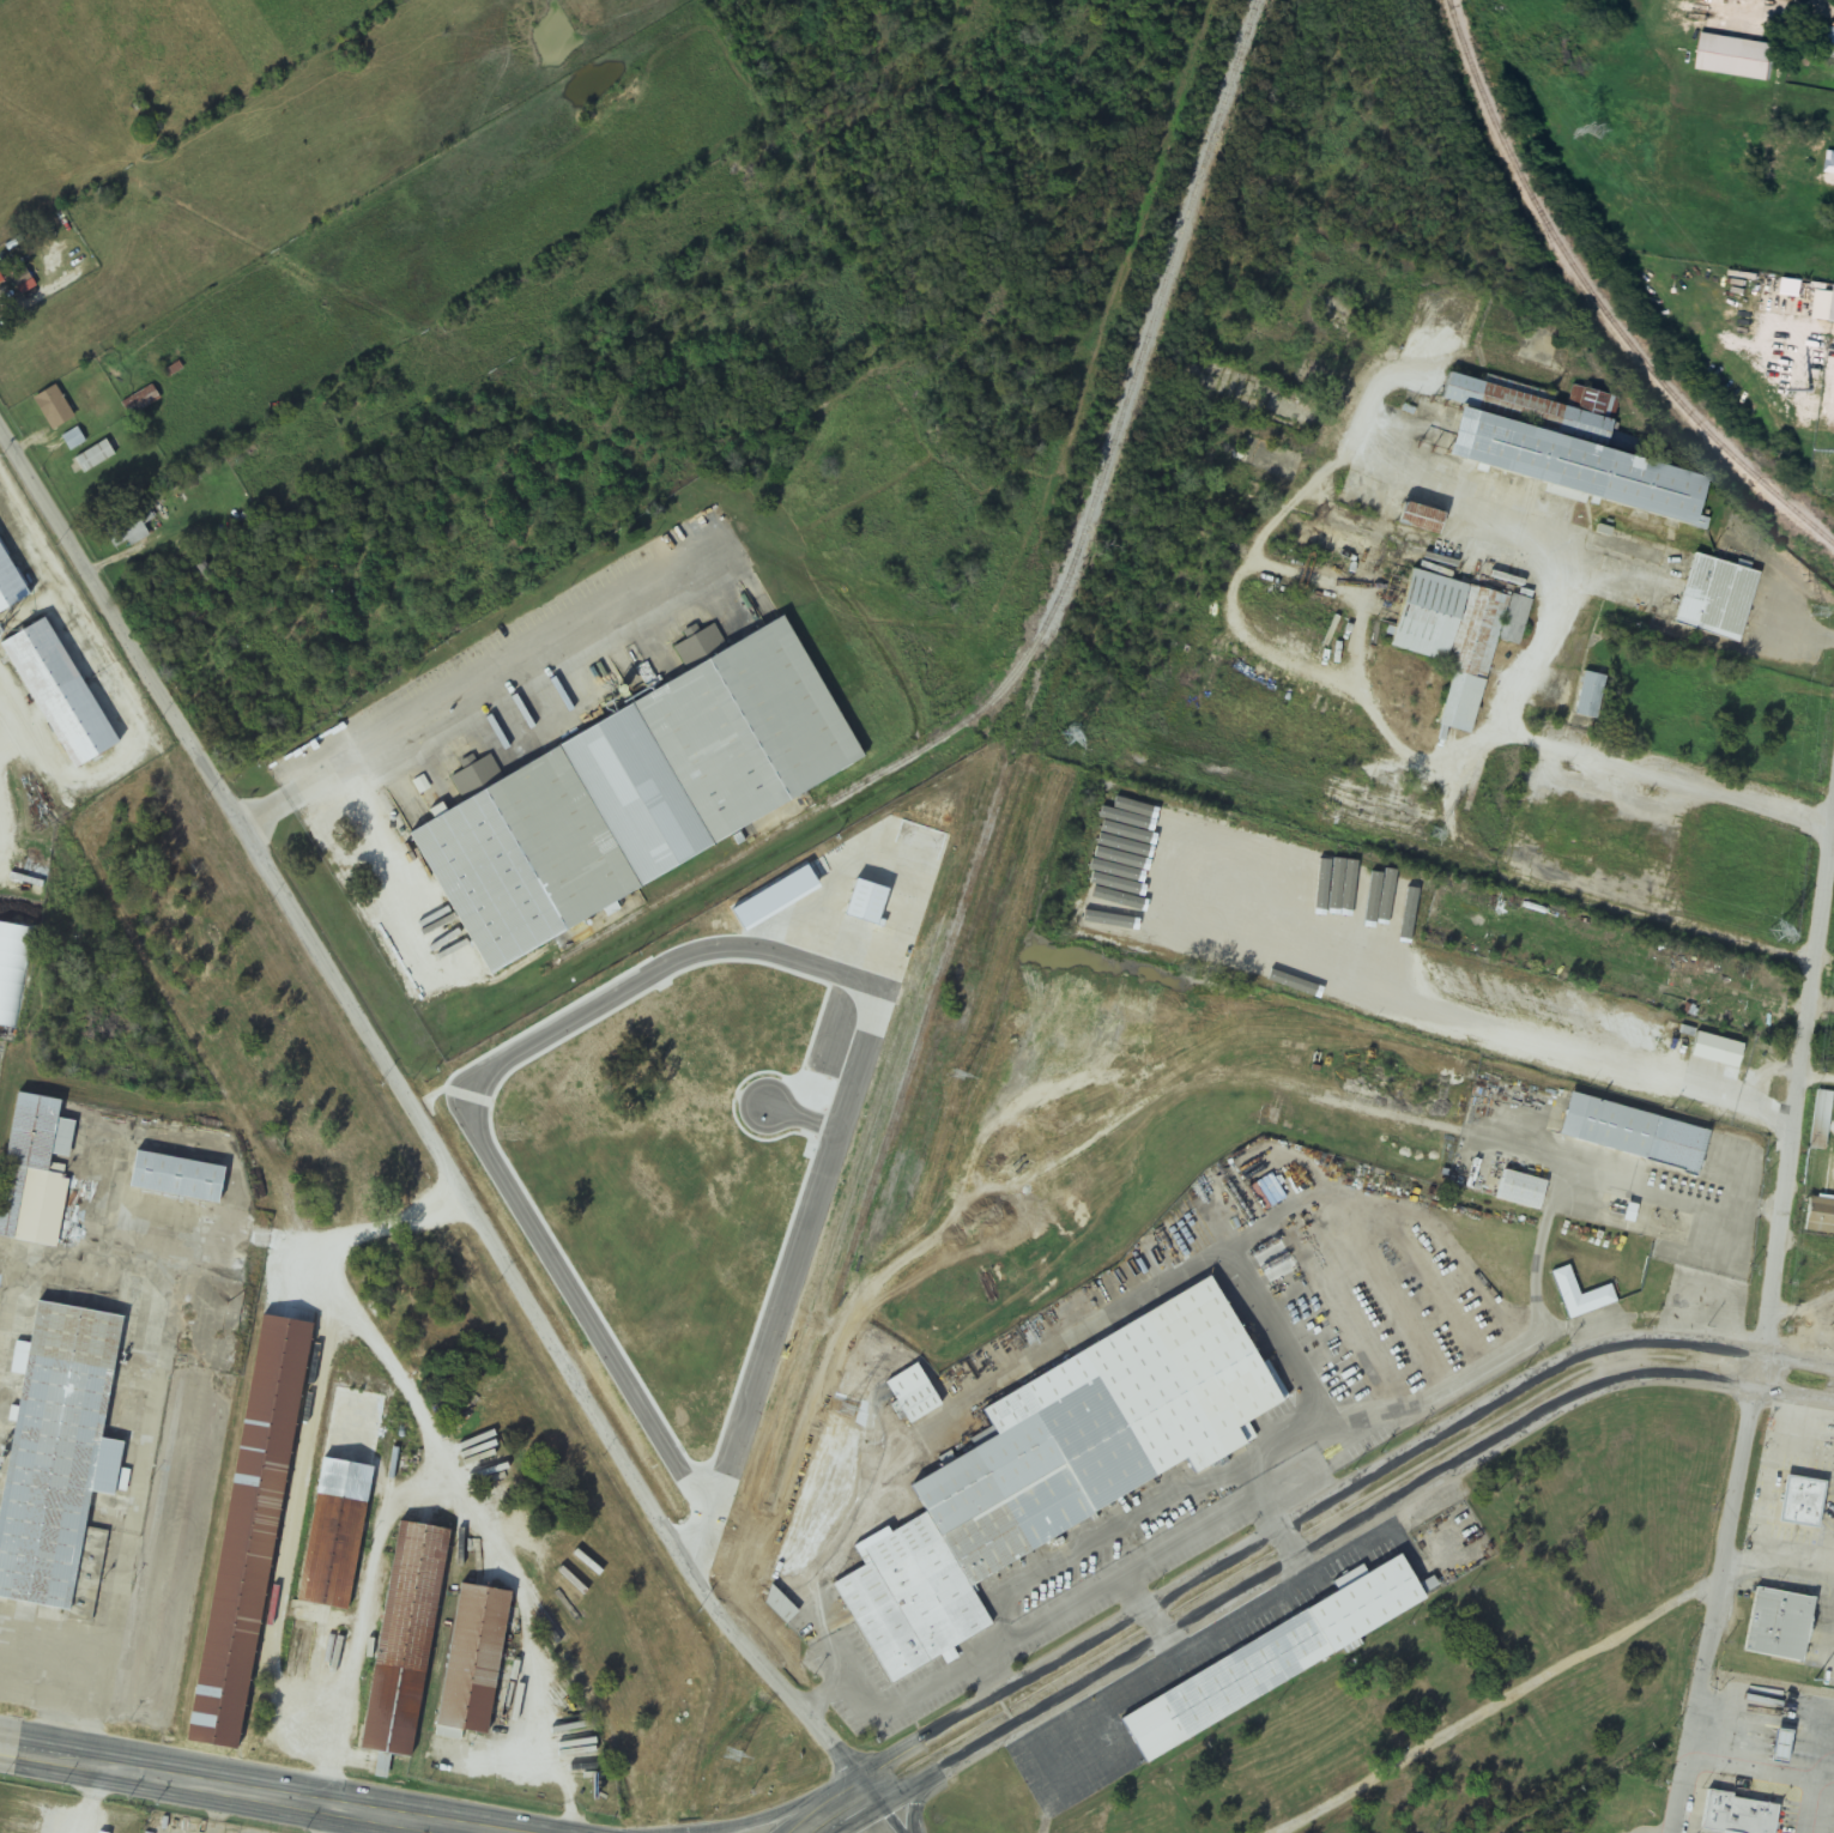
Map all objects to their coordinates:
building: (1802, 0)
building: (1829, 44)
building: (1736, 56)
power tower: (1604, 132)
building: (1830, 162)
railway: (1173, 272)
building: (0, 286)
railway: (1600, 298)
building: (1833, 311)
building: (1336, 315)
power tower: (1808, 389)
building: (1241, 397)
building: (140, 400)
building: (54, 407)
building: (73, 438)
building: (1554, 449)
building: (93, 456)
building: (1355, 482)
building: (1417, 520)
building: (129, 527)
building: (10, 586)
building: (1714, 599)
power tower: (1820, 613)
building: (1455, 637)
road: (483, 683)
building: (62, 694)
building: (1588, 697)
power tower: (1069, 739)
railway: (851, 792)
building: (632, 794)
power tower: (1432, 834)
power tower: (1778, 933)
building: (1230, 952)
building: (1557, 1009)
building: (1749, 1051)
railway: (1248, 1055)
power tower: (958, 1076)
road: (422, 1115)
building: (1820, 1121)
building: (1632, 1133)
building: (34, 1172)
building: (180, 1176)
building: (1519, 1190)
building: (1818, 1216)
building: (1580, 1296)
road: (1761, 1329)
building: (910, 1395)
power tower: (847, 1411)
building: (1096, 1426)
building: (60, 1457)
building: (341, 1496)
road: (1333, 1496)
building: (1814, 1507)
building: (253, 1530)
road: (1340, 1530)
road: (1288, 1543)
building: (914, 1601)
road: (1156, 1620)
building: (1791, 1631)
building: (1515, 1632)
building: (408, 1638)
building: (476, 1659)
building: (1270, 1659)
building: (1448, 1669)
power tower: (1816, 1683)
road: (1500, 1702)
railway: (700, 1704)
building: (1562, 1729)
power tower: (731, 1755)
road: (286, 1784)
road: (189, 1798)
road: (915, 1802)
road: (833, 1803)
road: (889, 1805)
building: (1780, 1815)
road: (758, 1819)

